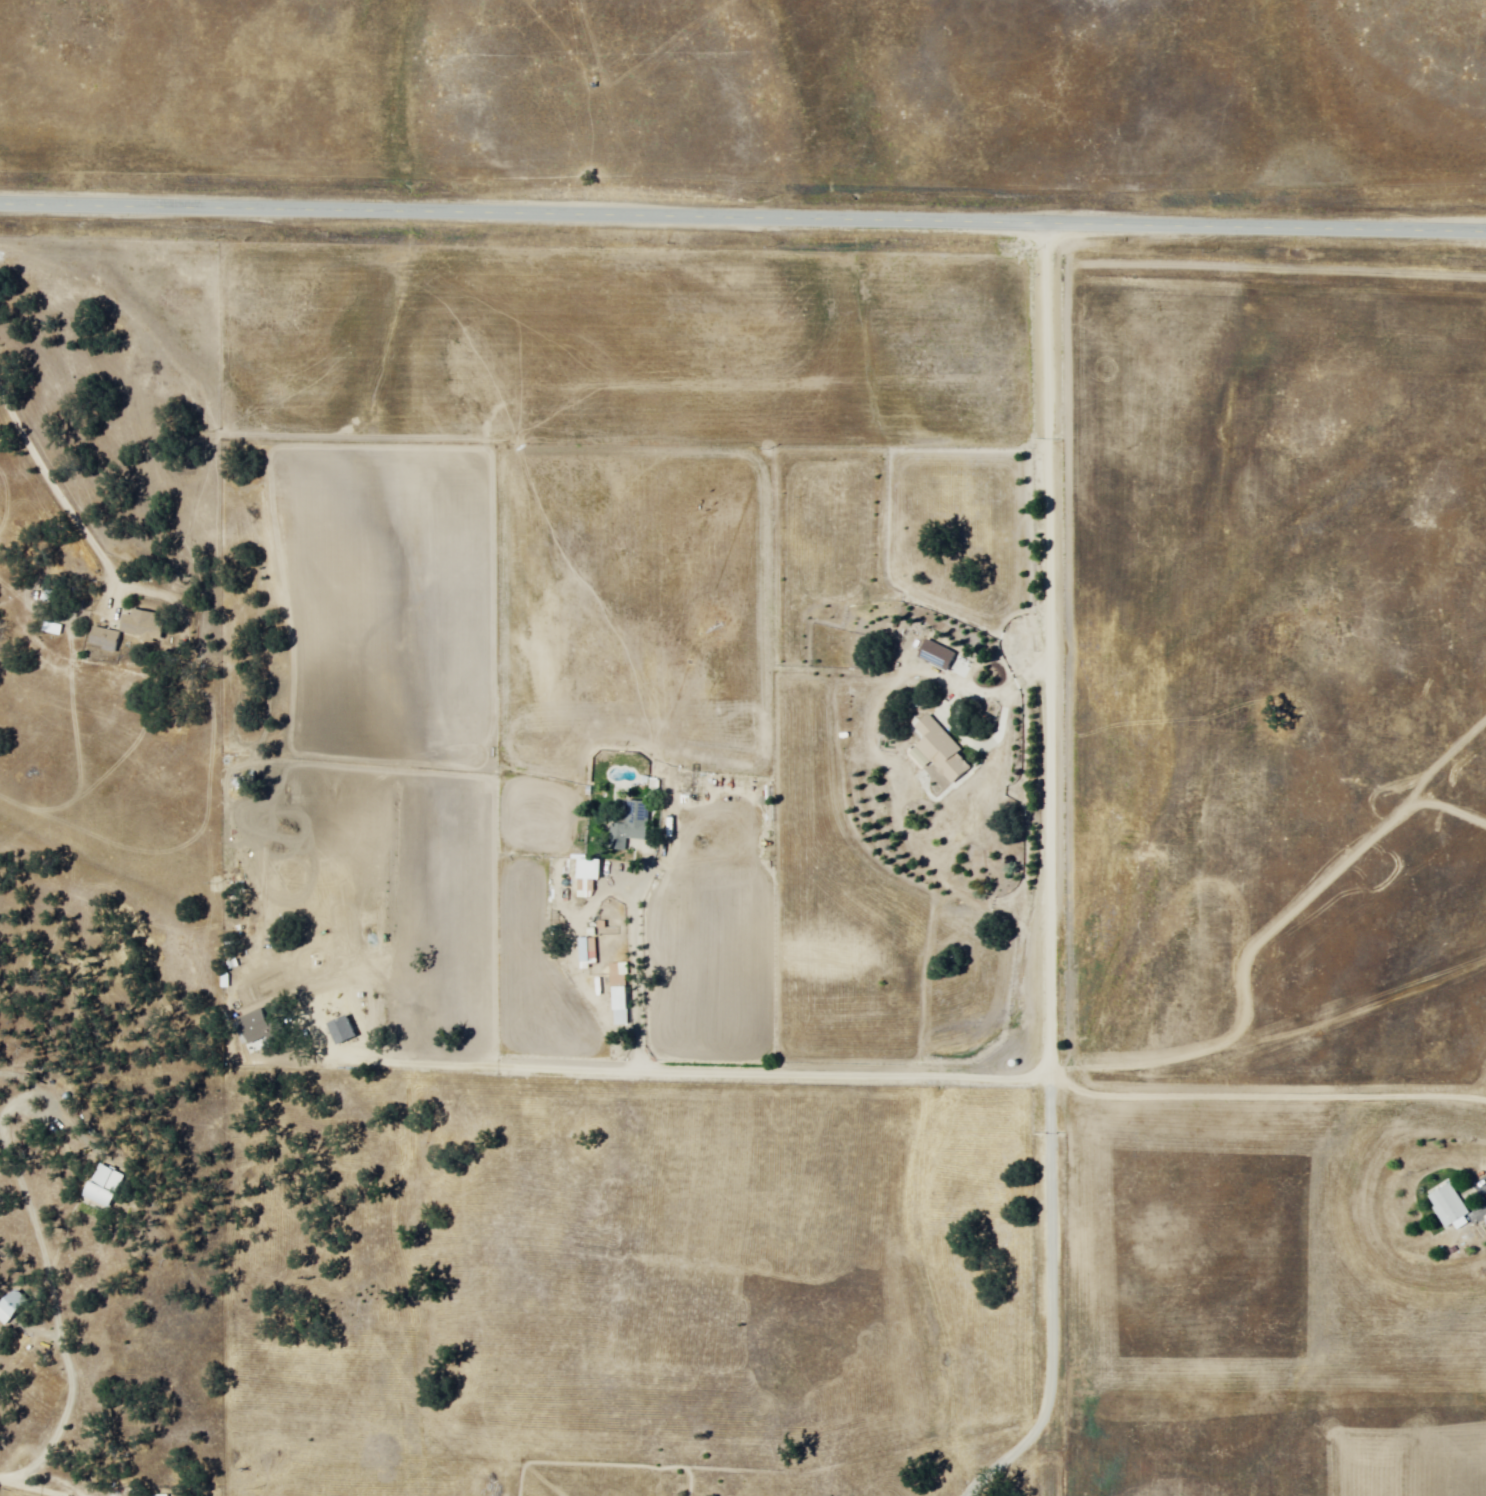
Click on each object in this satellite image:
road: (742, 221)
road: (521, 276)
building: (148, 625)
road: (1044, 648)
building: (930, 655)
building: (935, 752)
road: (356, 761)
building: (632, 827)
building: (590, 876)
building: (591, 951)
building: (621, 995)
building: (252, 1027)
building: (344, 1031)
road: (960, 1068)
building: (107, 1186)
building: (1446, 1202)
building: (1484, 1223)
building: (12, 1309)
road: (18, 1485)

